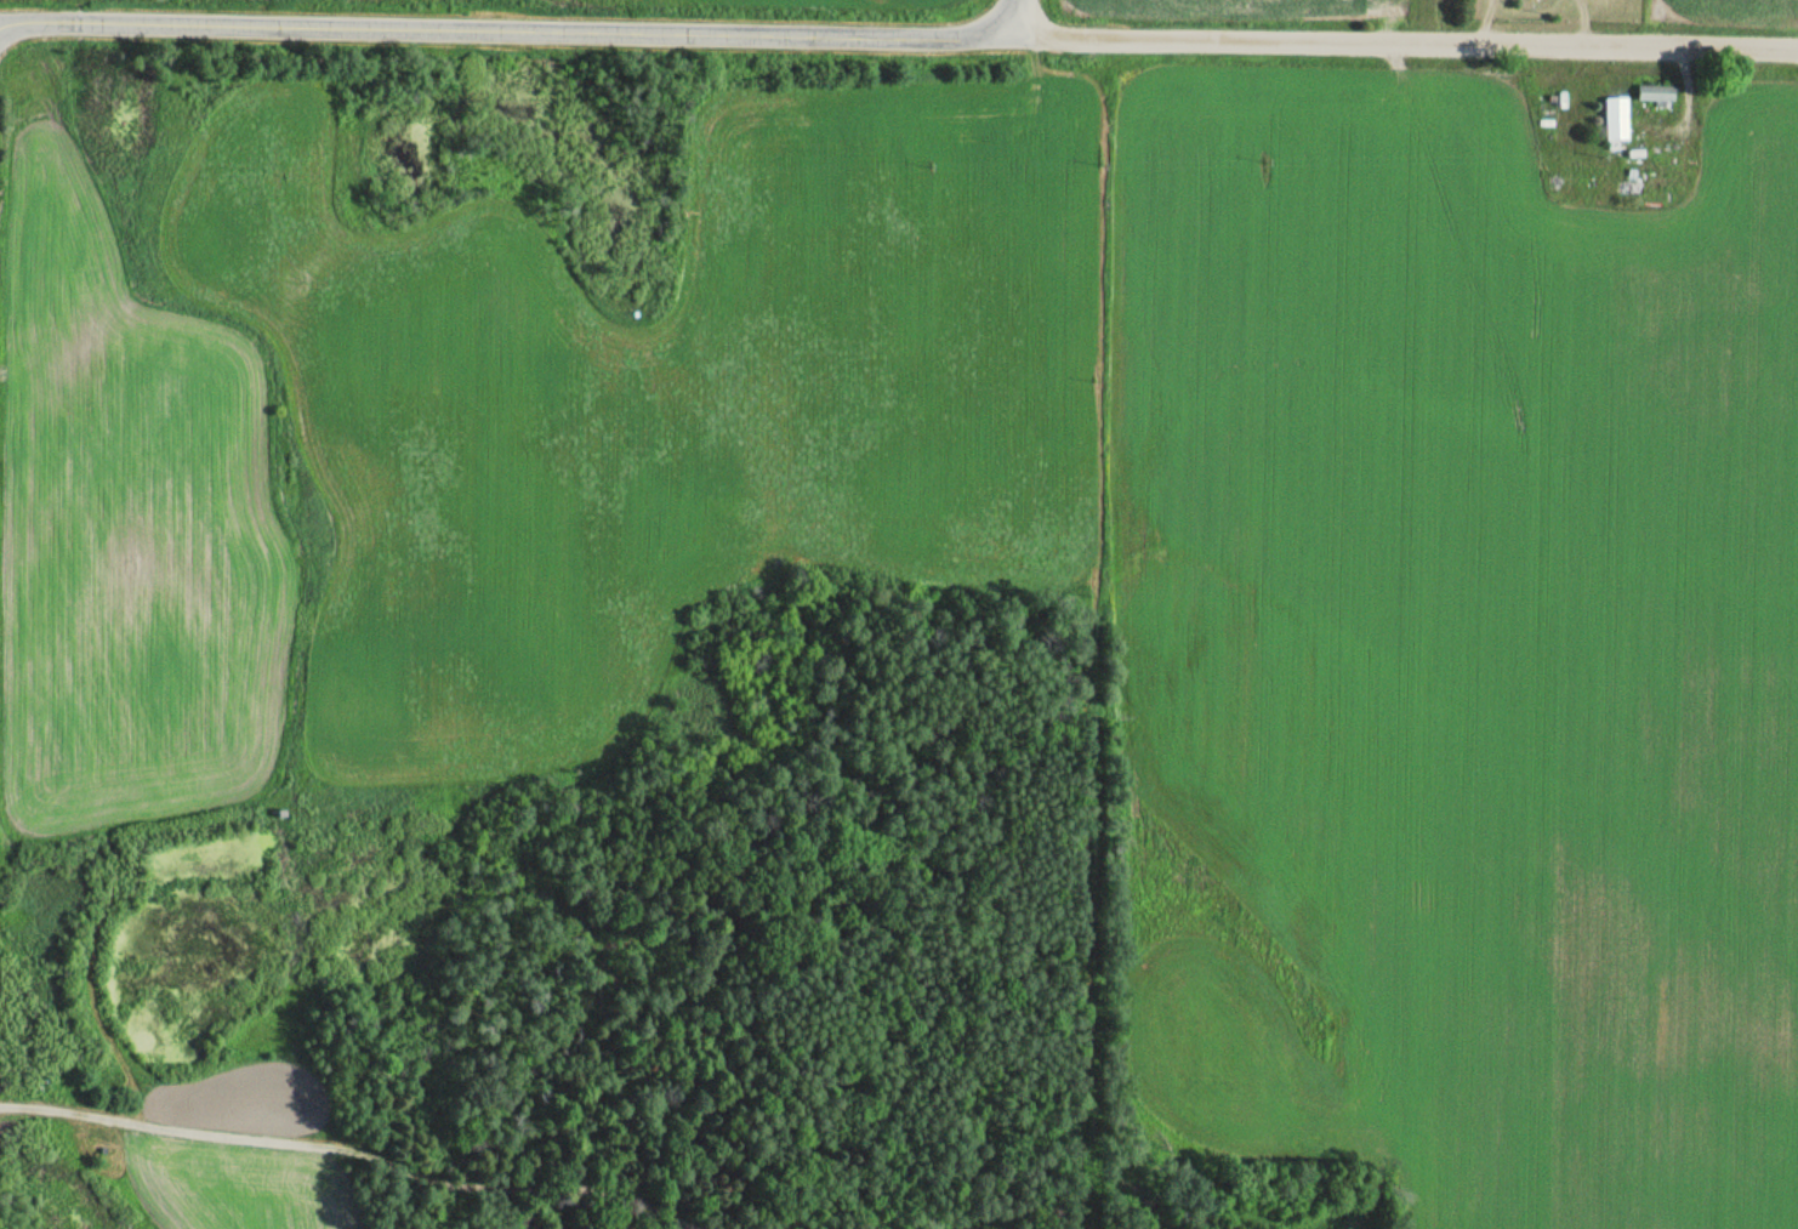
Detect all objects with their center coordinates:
road: (1020, 16)
road: (511, 24)
road: (1409, 42)
building: (1655, 93)
building: (1611, 124)

